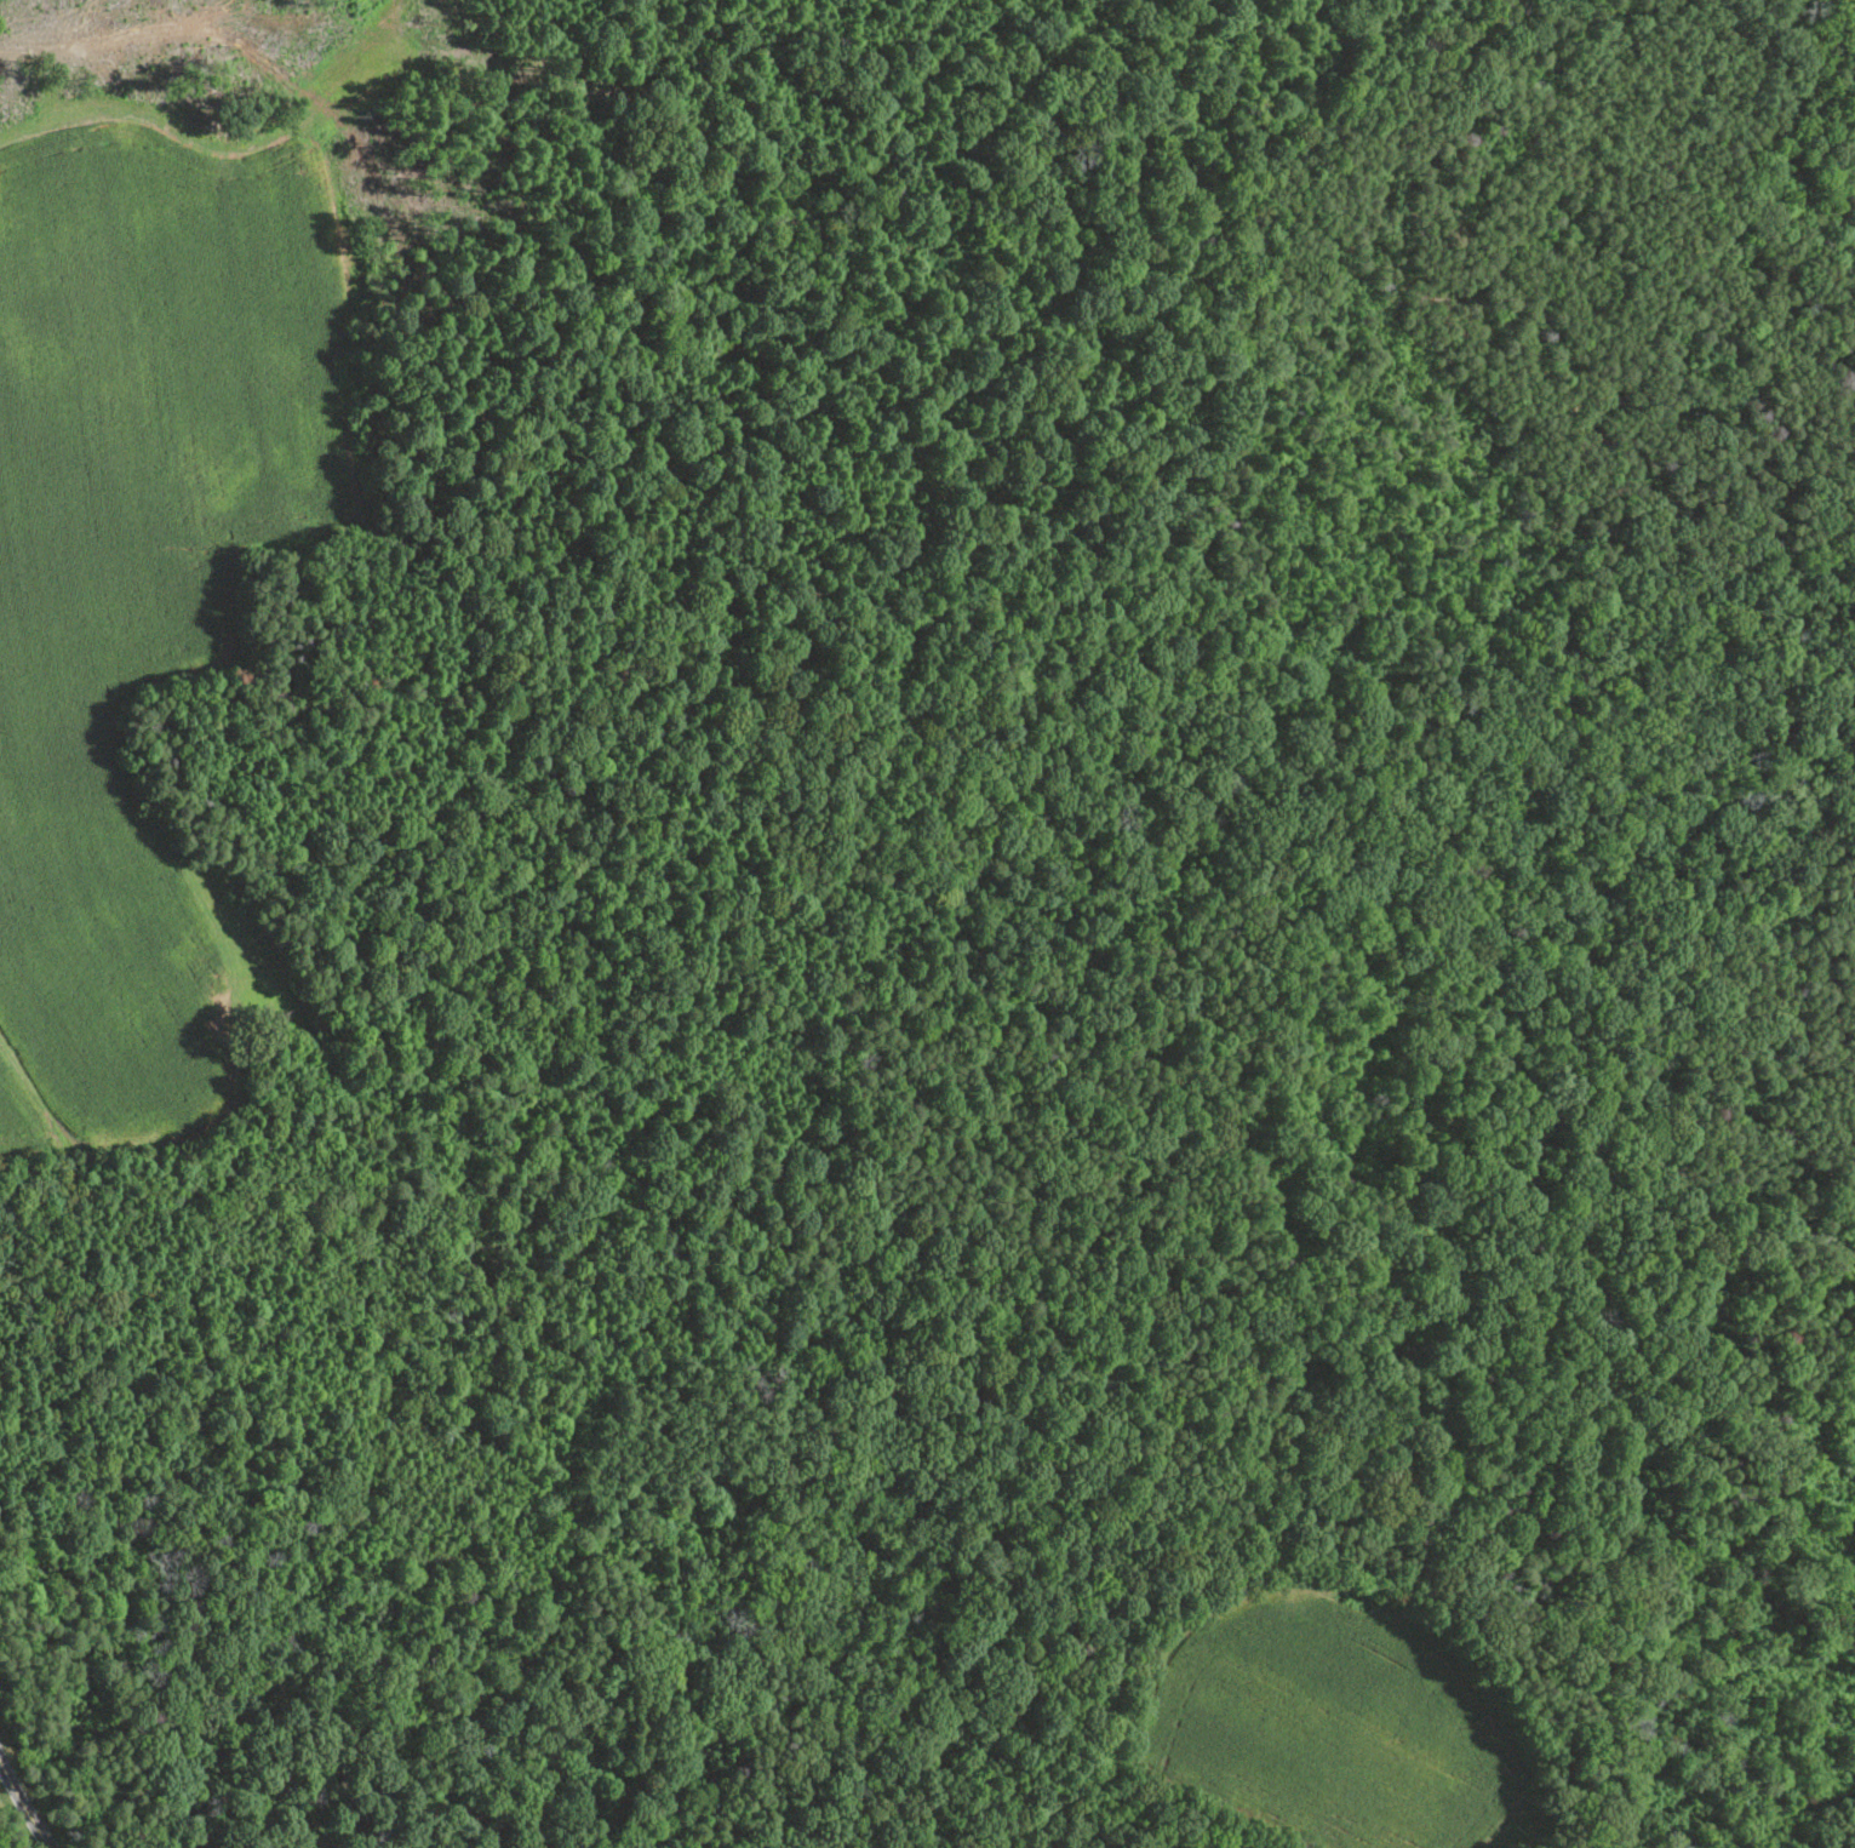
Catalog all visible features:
road: (1, 1762)
road: (22, 1802)

